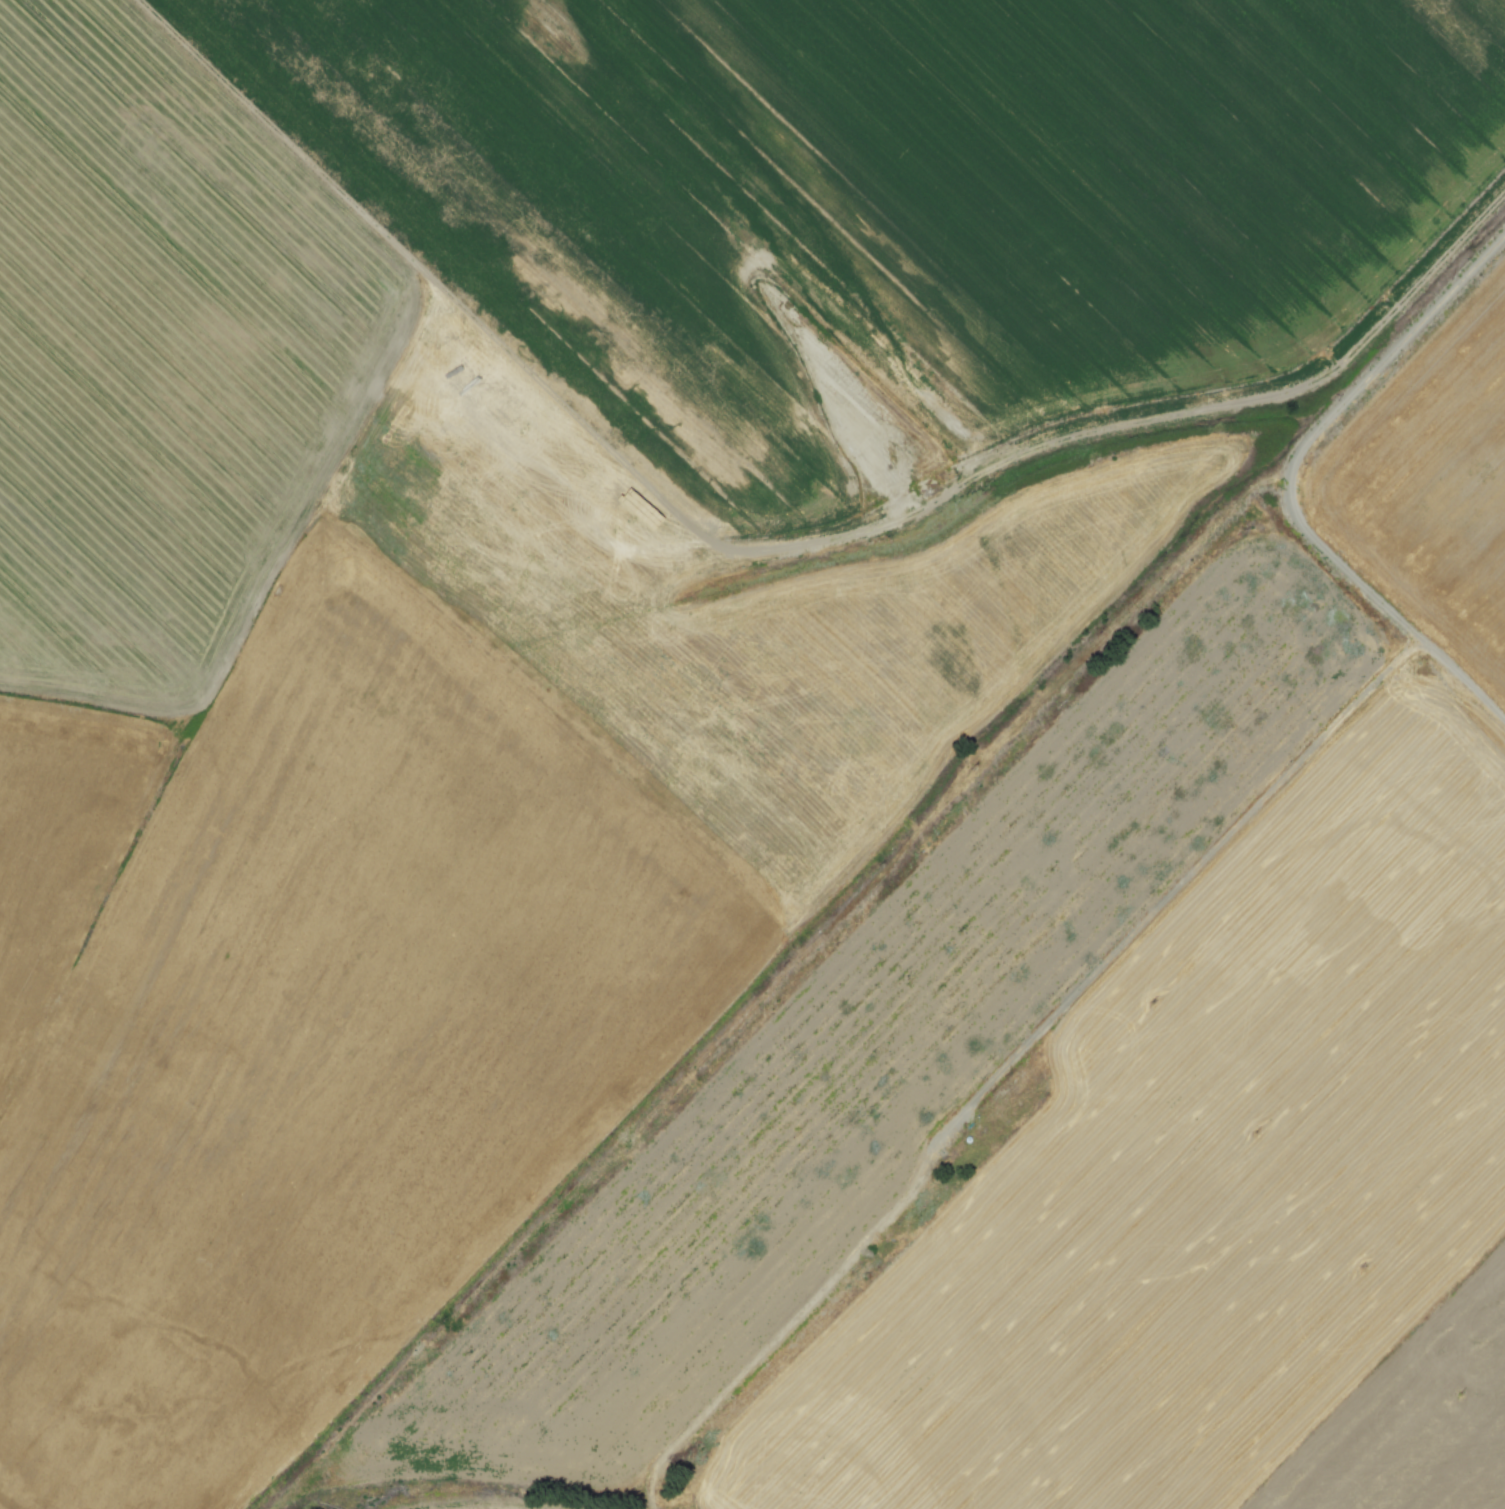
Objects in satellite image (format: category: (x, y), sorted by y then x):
road: (1297, 479)

